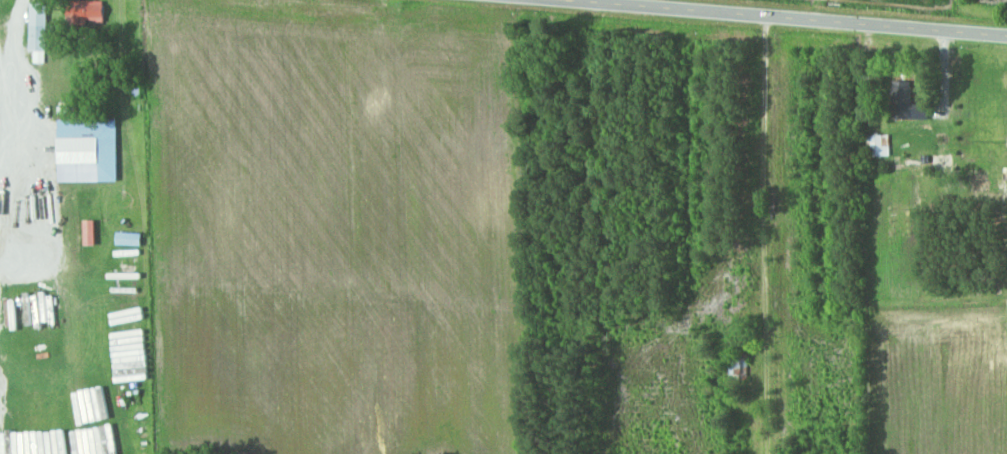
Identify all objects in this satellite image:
road: (968, 3)
building: (89, 11)
building: (40, 26)
building: (907, 102)
building: (878, 145)
building: (81, 150)
road: (715, 201)

